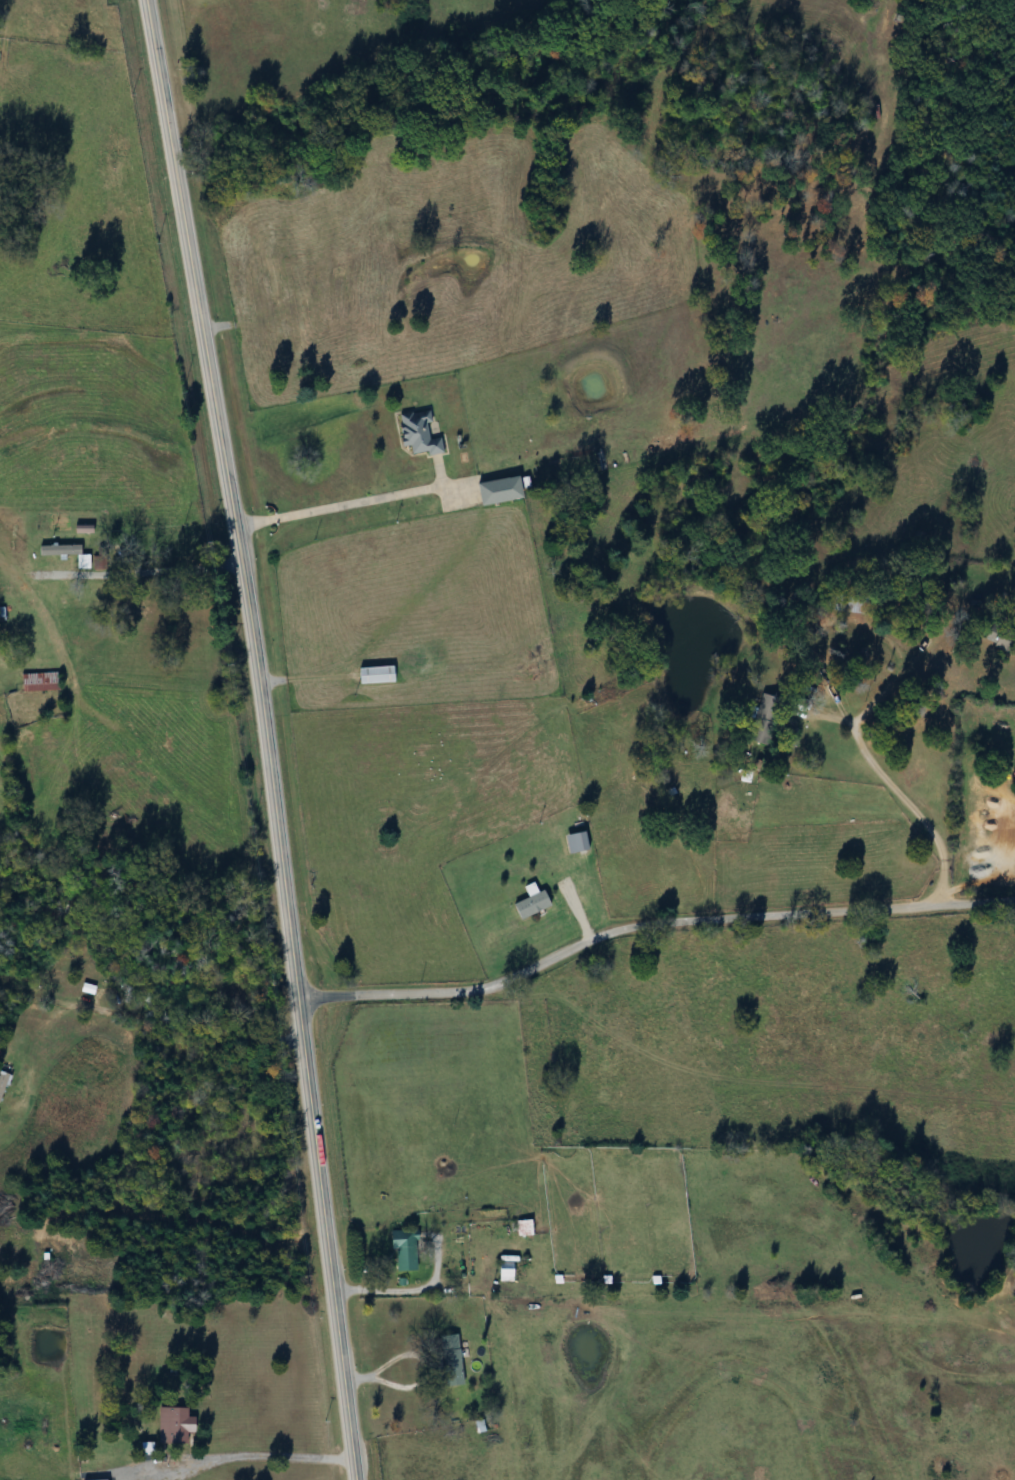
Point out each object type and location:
road: (343, 504)
road: (157, 569)
building: (140, 615)
building: (378, 675)
building: (41, 682)
road: (266, 737)
road: (876, 774)
road: (933, 882)
building: (527, 903)
road: (650, 925)
park: (859, 937)
building: (519, 1227)
building: (404, 1258)
building: (500, 1271)
road: (399, 1290)
building: (447, 1358)
building: (178, 1425)
road: (248, 1454)

